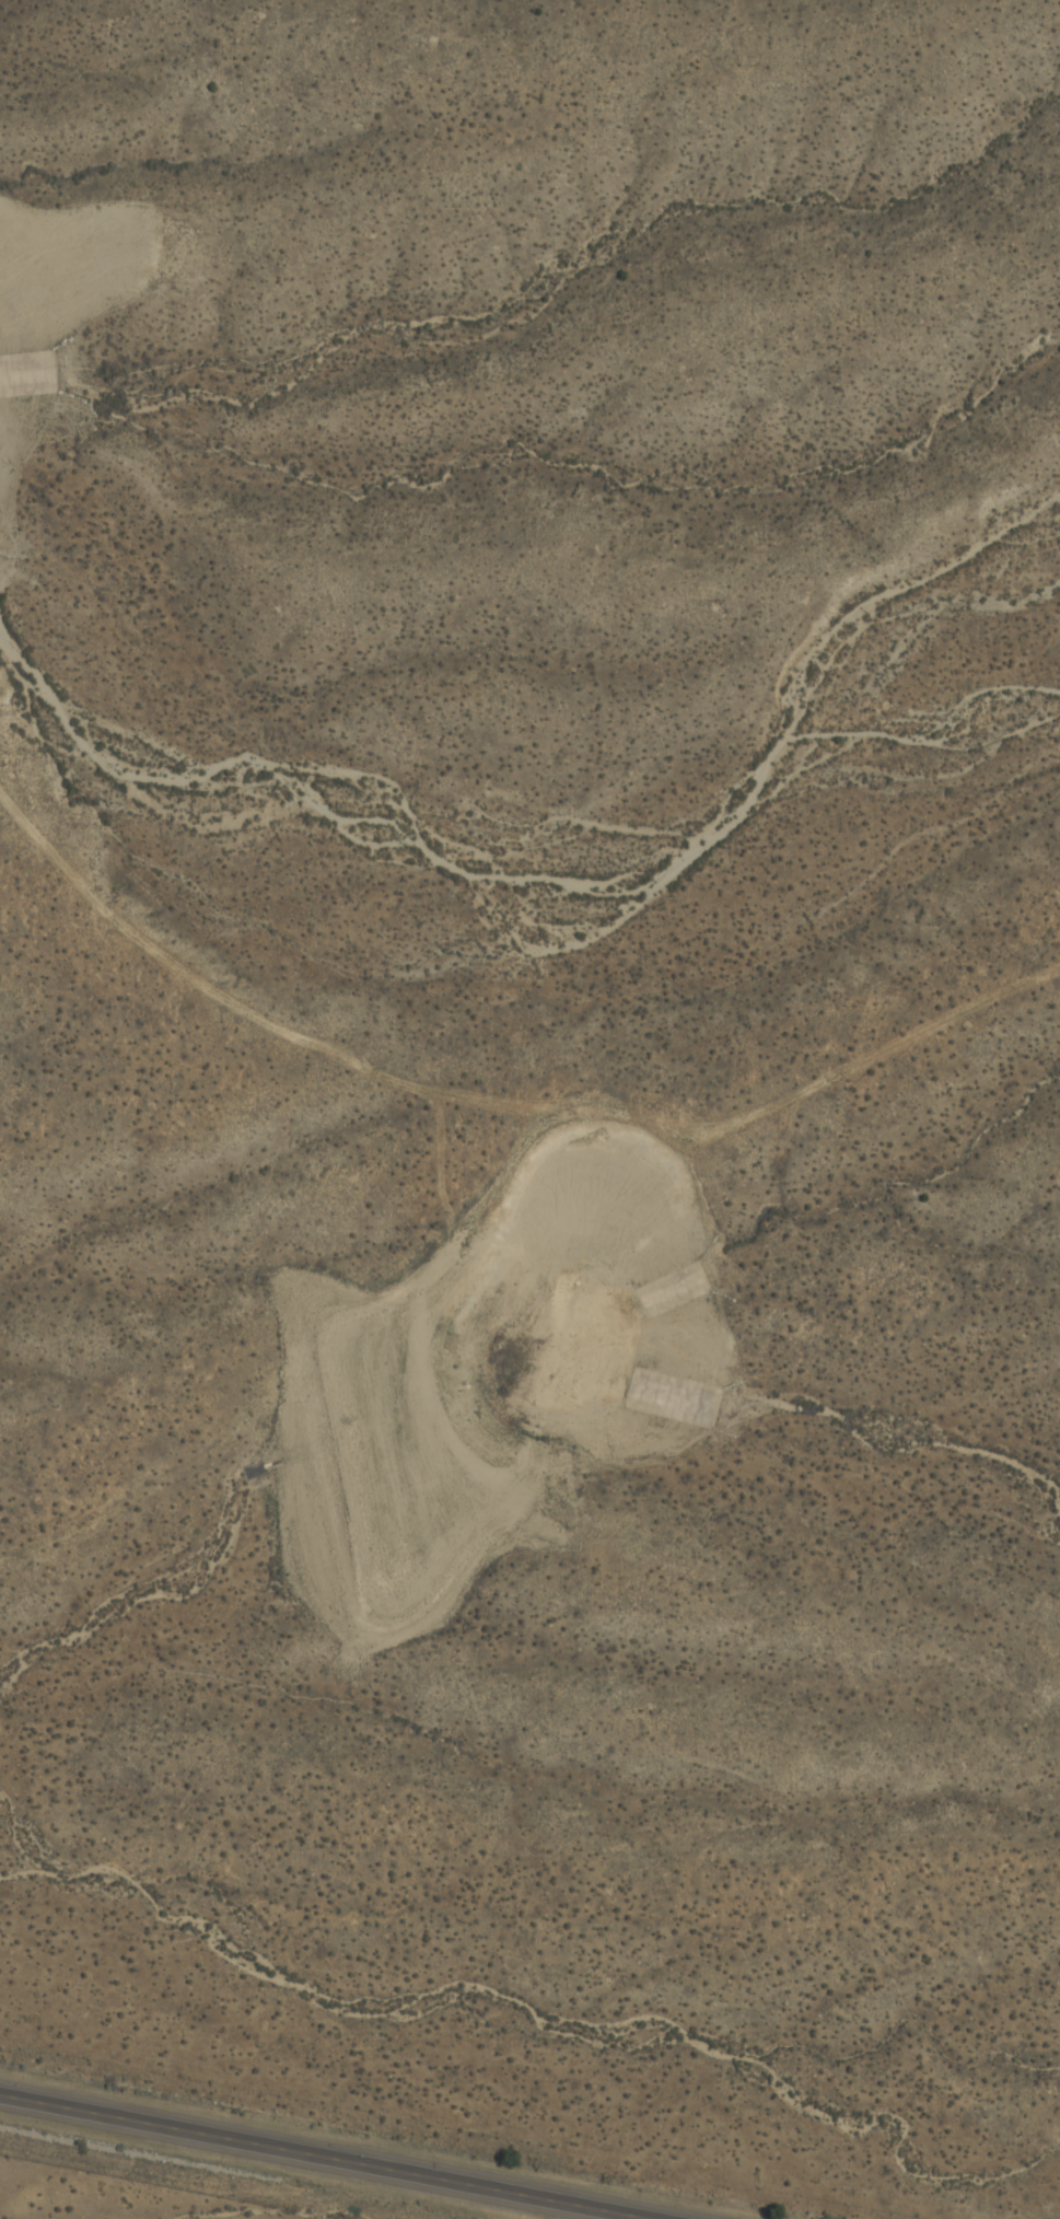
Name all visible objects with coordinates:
road: (325, 2157)

